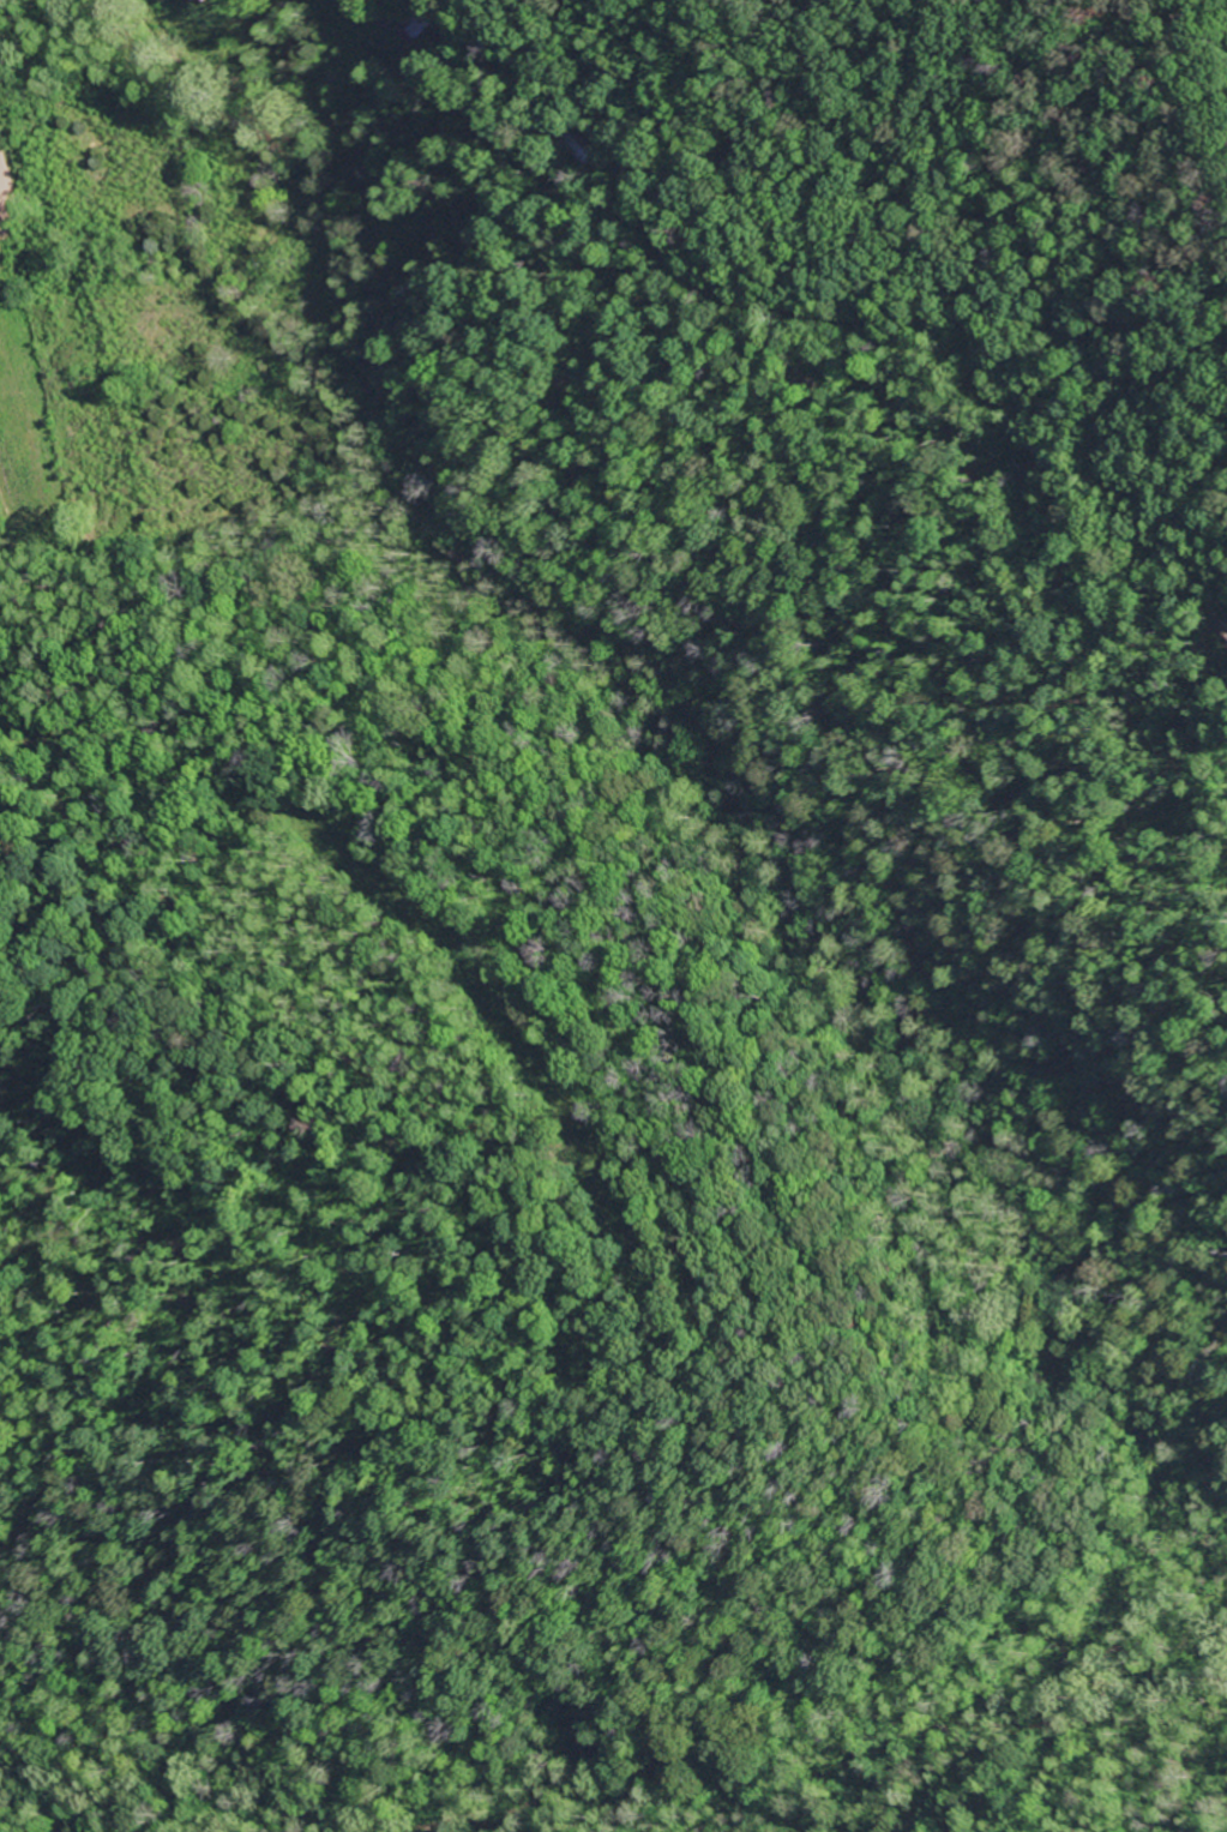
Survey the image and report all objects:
road: (802, 313)

